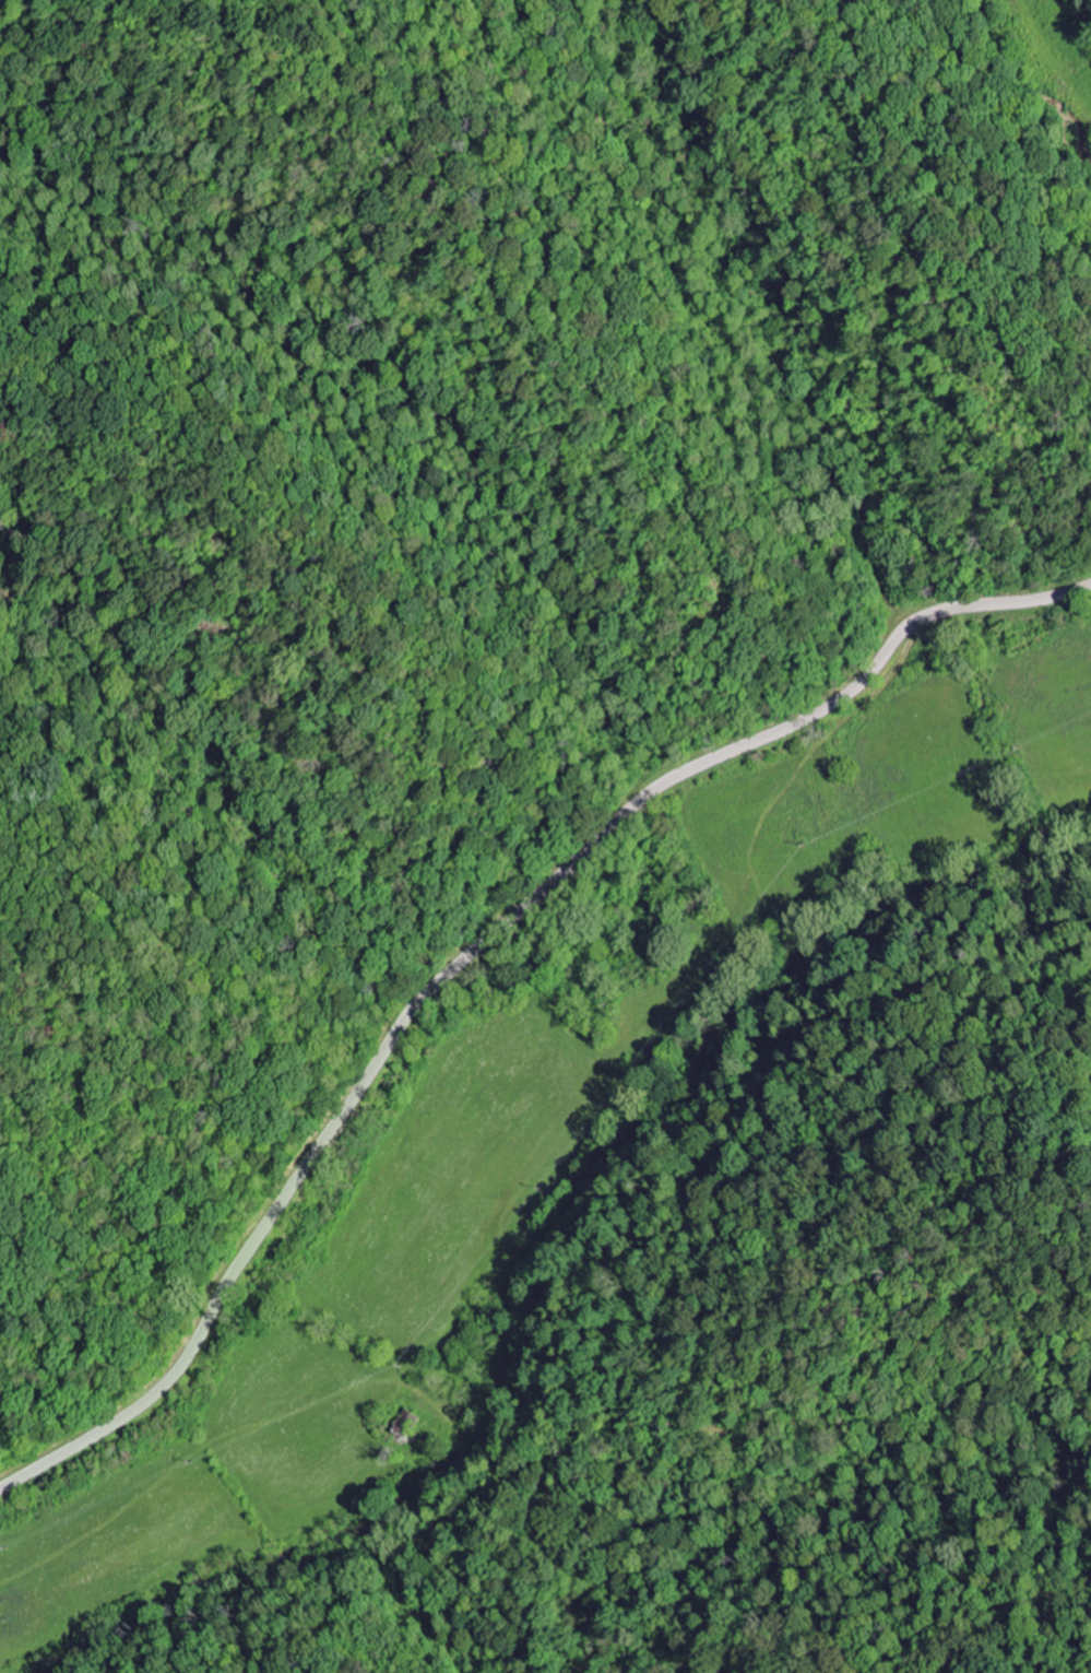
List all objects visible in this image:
road: (1088, 4)
road: (477, 947)

